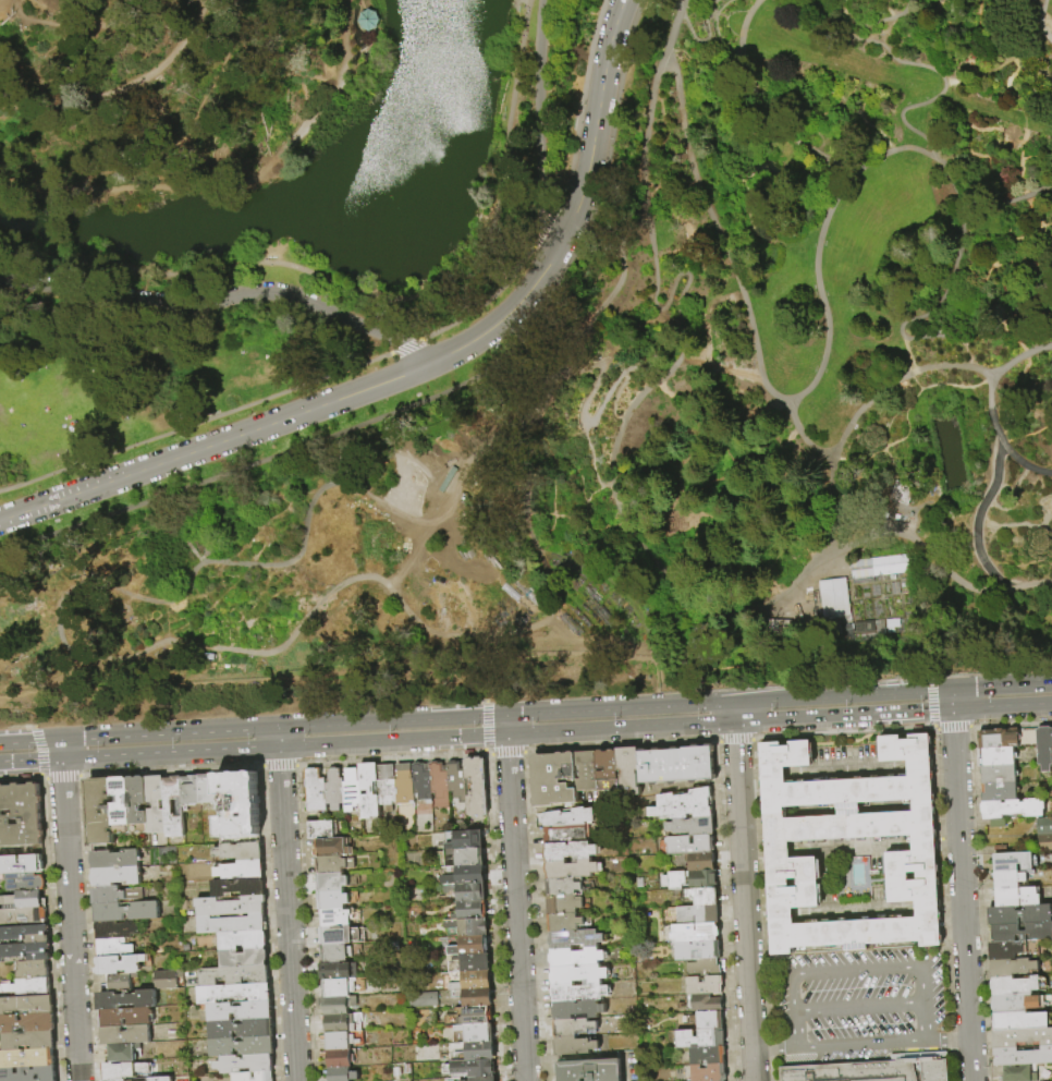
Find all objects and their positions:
road: (358, 3)
road: (1014, 8)
road: (1031, 9)
road: (724, 17)
building: (367, 20)
road: (1035, 20)
road: (889, 21)
road: (1038, 24)
road: (74, 26)
road: (1047, 28)
road: (714, 29)
road: (522, 33)
road: (702, 38)
road: (857, 38)
road: (910, 39)
road: (1029, 39)
road: (371, 41)
road: (896, 41)
road: (362, 50)
road: (352, 57)
road: (999, 64)
road: (1039, 74)
road: (708, 77)
road: (317, 78)
road: (1007, 84)
road: (120, 86)
road: (290, 86)
road: (941, 88)
road: (1042, 93)
road: (219, 99)
road: (1048, 101)
road: (760, 105)
road: (579, 106)
road: (995, 111)
road: (307, 118)
road: (901, 120)
road: (1022, 120)
road: (595, 121)
road: (539, 123)
road: (731, 136)
road: (645, 137)
road: (964, 143)
road: (663, 147)
road: (142, 161)
road: (1019, 161)
road: (758, 172)
road: (851, 173)
road: (768, 180)
road: (100, 186)
road: (1008, 199)
road: (1001, 219)
road: (546, 221)
road: (1037, 223)
road: (686, 230)
road: (1008, 239)
road: (1013, 262)
road: (988, 266)
road: (1035, 269)
road: (489, 278)
road: (950, 279)
road: (342, 284)
road: (979, 294)
road: (490, 299)
road: (610, 299)
road: (221, 300)
road: (661, 308)
road: (661, 313)
road: (505, 315)
road: (706, 316)
road: (671, 317)
road: (981, 327)
building: (635, 331)
road: (633, 341)
road: (530, 344)
road: (682, 345)
road: (405, 347)
park: (518, 350)
road: (968, 351)
road: (821, 362)
road: (1026, 363)
road: (934, 365)
road: (646, 369)
road: (555, 374)
road: (914, 381)
road: (673, 386)
road: (438, 394)
road: (778, 397)
road: (613, 398)
road: (668, 400)
road: (695, 401)
road: (863, 404)
road: (989, 406)
road: (904, 411)
road: (591, 422)
road: (196, 423)
road: (886, 423)
road: (636, 425)
road: (562, 441)
road: (215, 444)
road: (546, 452)
road: (1049, 456)
road: (996, 457)
road: (809, 459)
road: (730, 461)
road: (684, 464)
road: (706, 481)
road: (745, 487)
road: (548, 488)
road: (762, 488)
road: (595, 489)
road: (781, 491)
building: (900, 491)
road: (733, 498)
road: (938, 499)
road: (1038, 499)
road: (884, 500)
road: (1027, 500)
road: (1014, 501)
road: (919, 505)
road: (1048, 514)
road: (726, 515)
road: (623, 517)
road: (1045, 521)
road: (576, 522)
road: (975, 523)
road: (768, 536)
road: (778, 538)
road: (186, 546)
road: (719, 546)
road: (963, 548)
road: (409, 556)
road: (1018, 564)
building: (878, 566)
road: (745, 576)
building: (893, 587)
building: (907, 587)
road: (951, 596)
building: (831, 597)
road: (1016, 598)
road: (206, 610)
building: (877, 627)
road: (102, 660)
road: (1001, 685)
traffic signals: (951, 689)
road: (883, 691)
road: (775, 697)
road: (951, 700)
road: (1002, 708)
road: (504, 712)
road: (733, 712)
traffic signals: (952, 712)
road: (842, 717)
road: (505, 725)
road: (169, 731)
road: (506, 736)
road: (278, 737)
building: (998, 738)
road: (29, 739)
building: (1044, 748)
road: (60, 750)
road: (170, 755)
building: (999, 756)
road: (29, 762)
building: (607, 765)
building: (676, 765)
building: (628, 770)
building: (586, 772)
building: (920, 773)
building: (1000, 774)
building: (553, 779)
building: (456, 780)
building: (421, 781)
building: (404, 784)
building: (440, 785)
building: (477, 786)
building: (387, 787)
building: (207, 789)
building: (334, 789)
building: (189, 790)
building: (316, 790)
building: (369, 790)
building: (352, 791)
building: (1000, 791)
building: (137, 804)
building: (155, 804)
building: (120, 805)
building: (683, 805)
building: (168, 807)
building: (237, 807)
building: (1012, 807)
building: (404, 811)
building: (20, 814)
building: (98, 814)
building: (565, 816)
building: (998, 822)
building: (1044, 825)
building: (690, 826)
building: (320, 829)
building: (566, 835)
building: (463, 839)
building: (1044, 841)
building: (689, 846)
building: (776, 846)
building: (330, 847)
building: (20, 849)
building: (238, 851)
building: (568, 852)
building: (463, 857)
building: (114, 860)
building: (1008, 861)
building: (21, 863)
building: (332, 863)
building: (700, 863)
building: (570, 869)
building: (241, 870)
building: (466, 875)
building: (115, 876)
building: (1010, 878)
building: (702, 879)
building: (21, 880)
building: (334, 880)
building: (674, 883)
building: (236, 887)
building: (562, 887)
building: (469, 891)
building: (114, 895)
building: (702, 896)
road: (962, 896)
building: (1017, 896)
building: (23, 899)
building: (334, 899)
road: (744, 901)
building: (563, 904)
building: (230, 906)
road: (515, 909)
building: (469, 910)
building: (125, 912)
road: (288, 914)
building: (696, 914)
building: (928, 914)
building: (1019, 914)
building: (23, 915)
building: (338, 916)
road: (70, 921)
building: (564, 923)
building: (225, 924)
building: (467, 927)
building: (115, 931)
building: (1020, 932)
building: (24, 933)
building: (694, 933)
building: (335, 934)
building: (574, 939)
building: (243, 940)
building: (469, 946)
building: (112, 948)
building: (1005, 949)
building: (24, 950)
building: (696, 950)
building: (338, 951)
building: (244, 958)
building: (575, 958)
building: (468, 962)
road: (922, 963)
building: (120, 964)
building: (1013, 967)
building: (32, 968)
building: (704, 968)
building: (337, 970)
building: (234, 975)
building: (577, 975)
building: (163, 979)
building: (476, 980)
building: (117, 983)
building: (704, 985)
building: (1015, 985)
building: (27, 986)
building: (337, 987)
building: (234, 993)
building: (578, 993)
building: (476, 997)
building: (421, 998)
building: (125, 1000)
building: (702, 1003)
building: (1016, 1003)
building: (26, 1004)
building: (338, 1005)
parking lot: (857, 1005)
building: (577, 1010)
building: (241, 1011)
building: (470, 1017)
building: (125, 1018)
building: (707, 1020)
building: (1020, 1020)
building: (26, 1021)
road: (928, 1021)
building: (335, 1023)
building: (573, 1027)
road: (796, 1028)
building: (242, 1029)
building: (473, 1033)
building: (125, 1035)
building: (1022, 1036)
building: (27, 1039)
building: (699, 1039)
road: (950, 1039)
building: (337, 1041)
road: (864, 1043)
building: (242, 1046)
building: (573, 1046)
road: (775, 1047)
building: (479, 1050)
building: (123, 1053)
building: (706, 1056)
building: (1023, 1056)
building: (26, 1057)
building: (337, 1058)
building: (245, 1064)
building: (470, 1068)
building: (589, 1070)
building: (874, 1070)
building: (123, 1071)
building: (28, 1073)
building: (341, 1073)
building: (708, 1073)
building: (1019, 1073)
building: (241, 1077)
building: (262, 1077)
building: (160, 1079)
building: (481, 1079)
building: (118, 1080)
building: (452, 1080)

